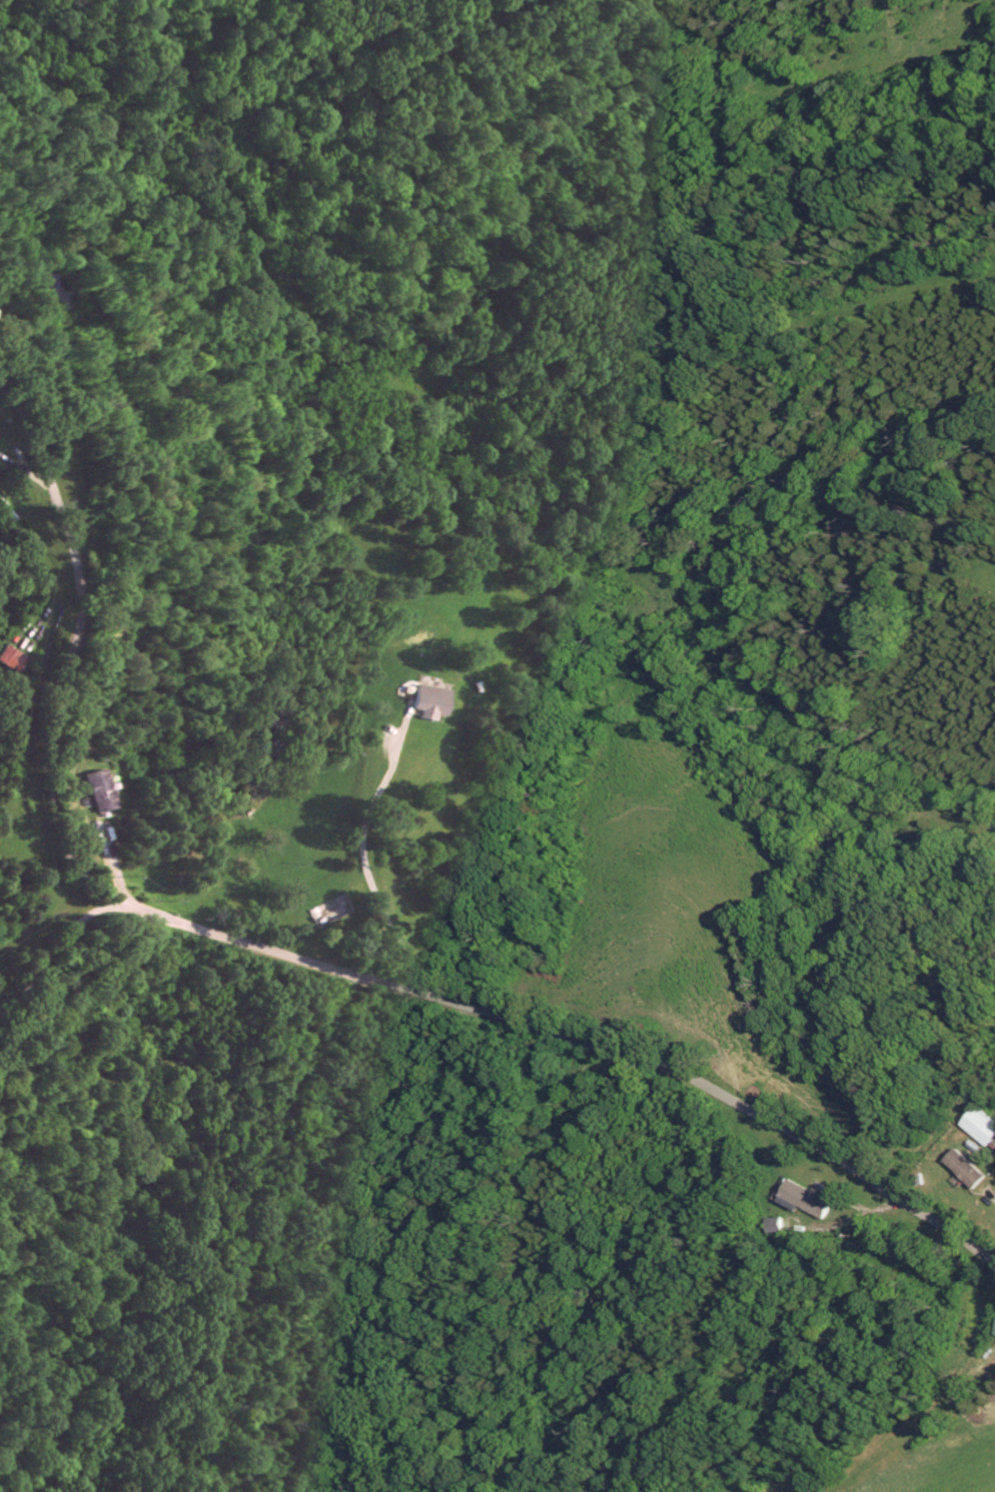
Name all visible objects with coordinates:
building: (12, 657)
building: (431, 700)
building: (99, 789)
road: (361, 862)
road: (57, 951)
road: (306, 962)
road: (73, 979)
road: (91, 1025)
building: (977, 1168)
building: (813, 1199)

